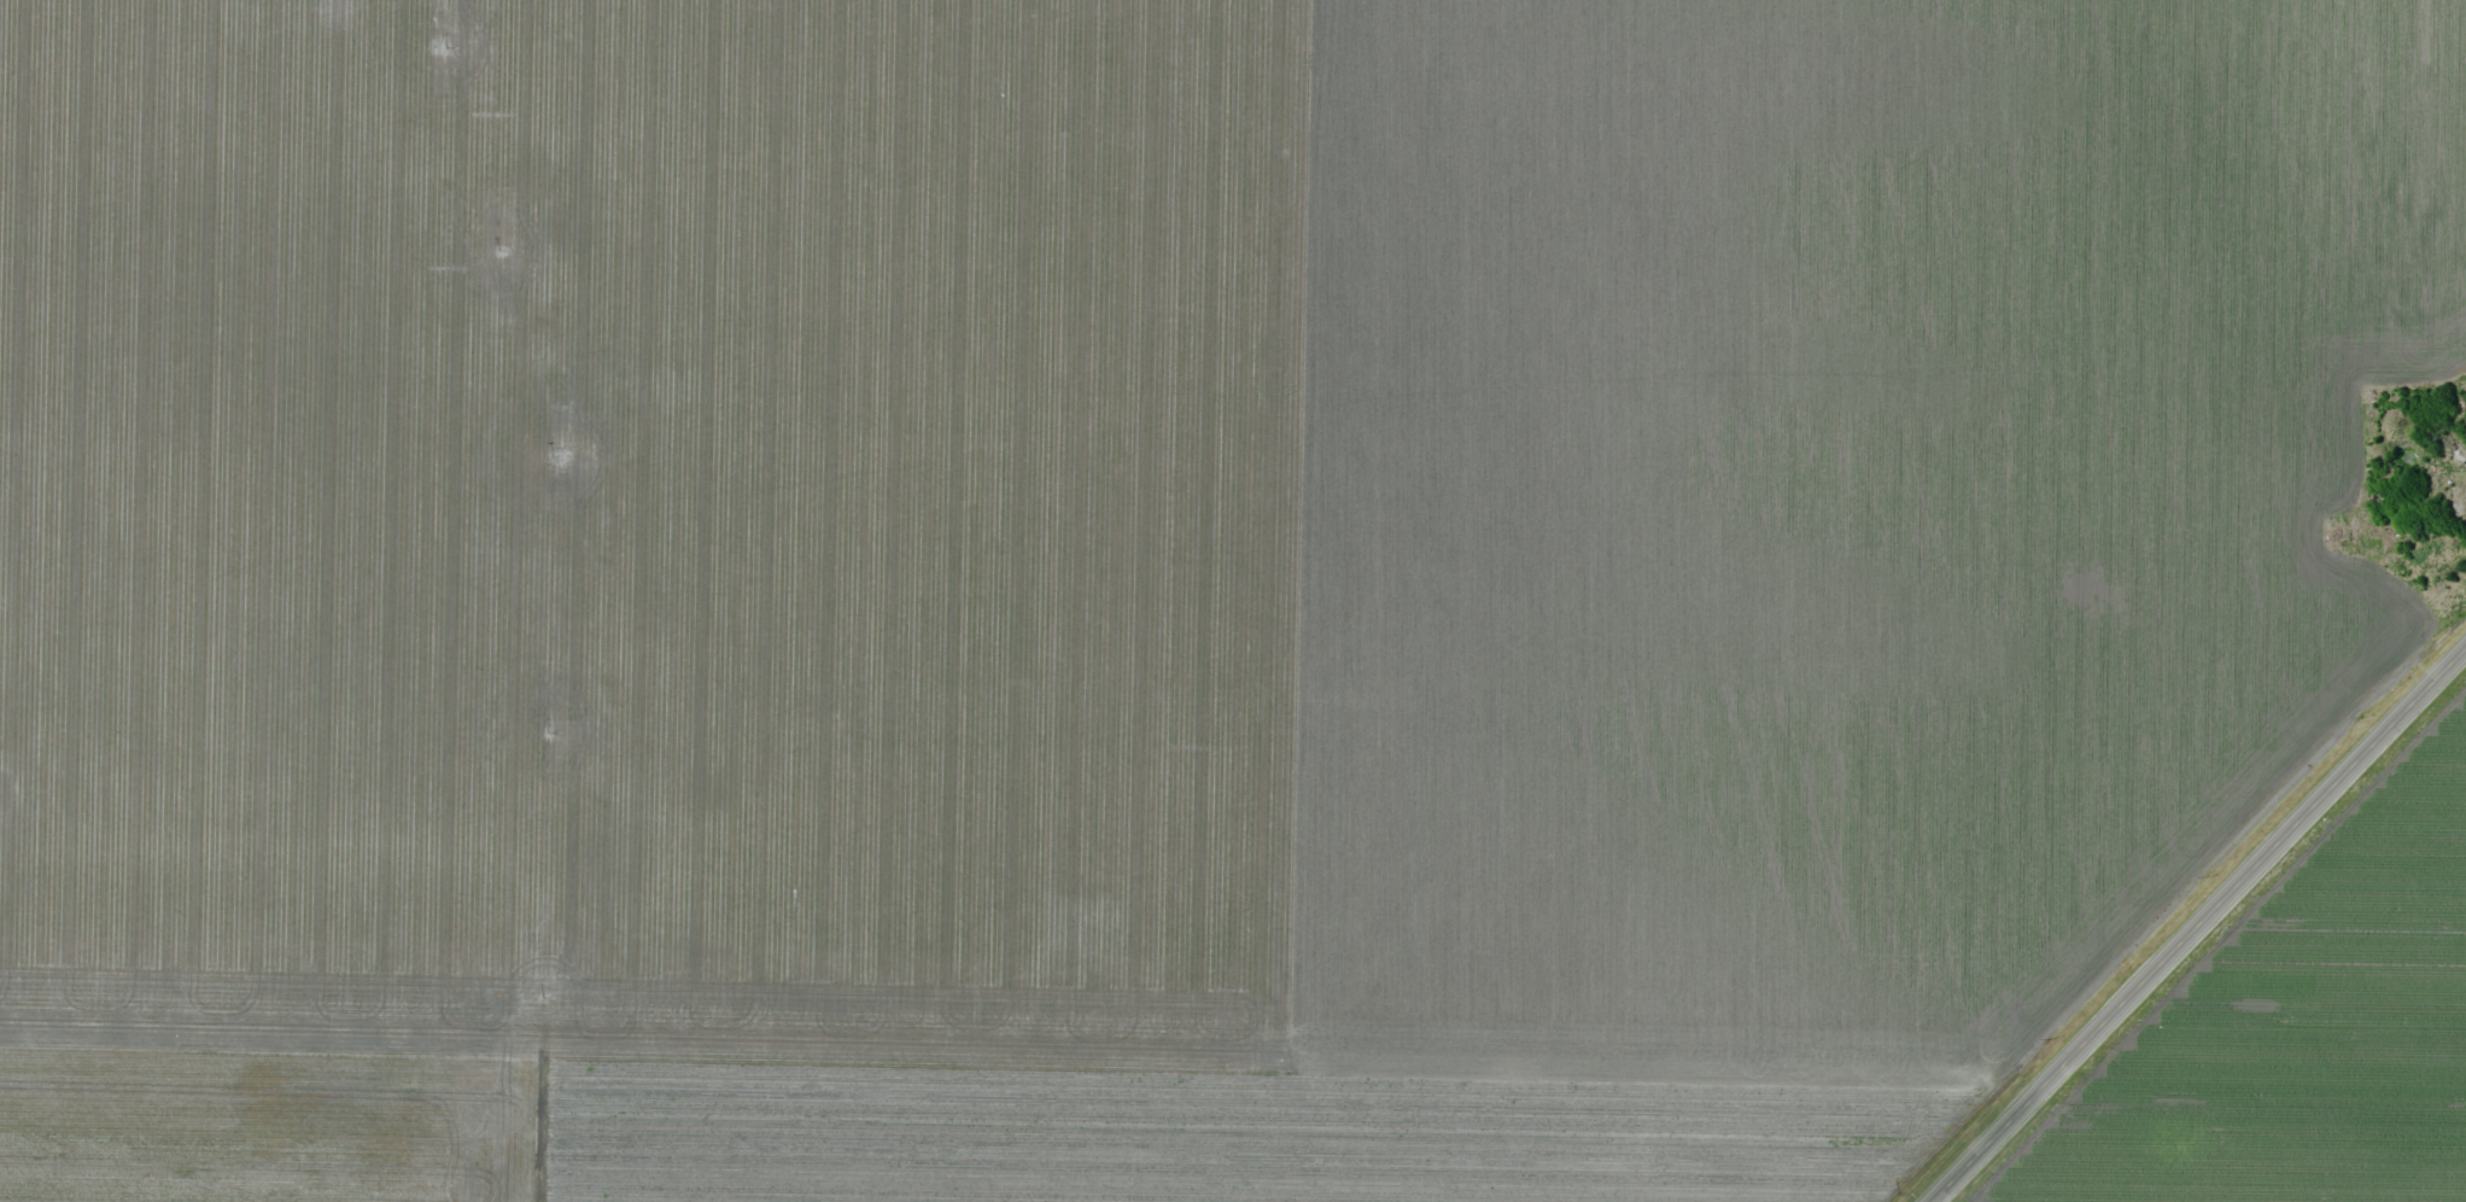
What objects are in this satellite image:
building: (2431, 492)
road: (2199, 926)

